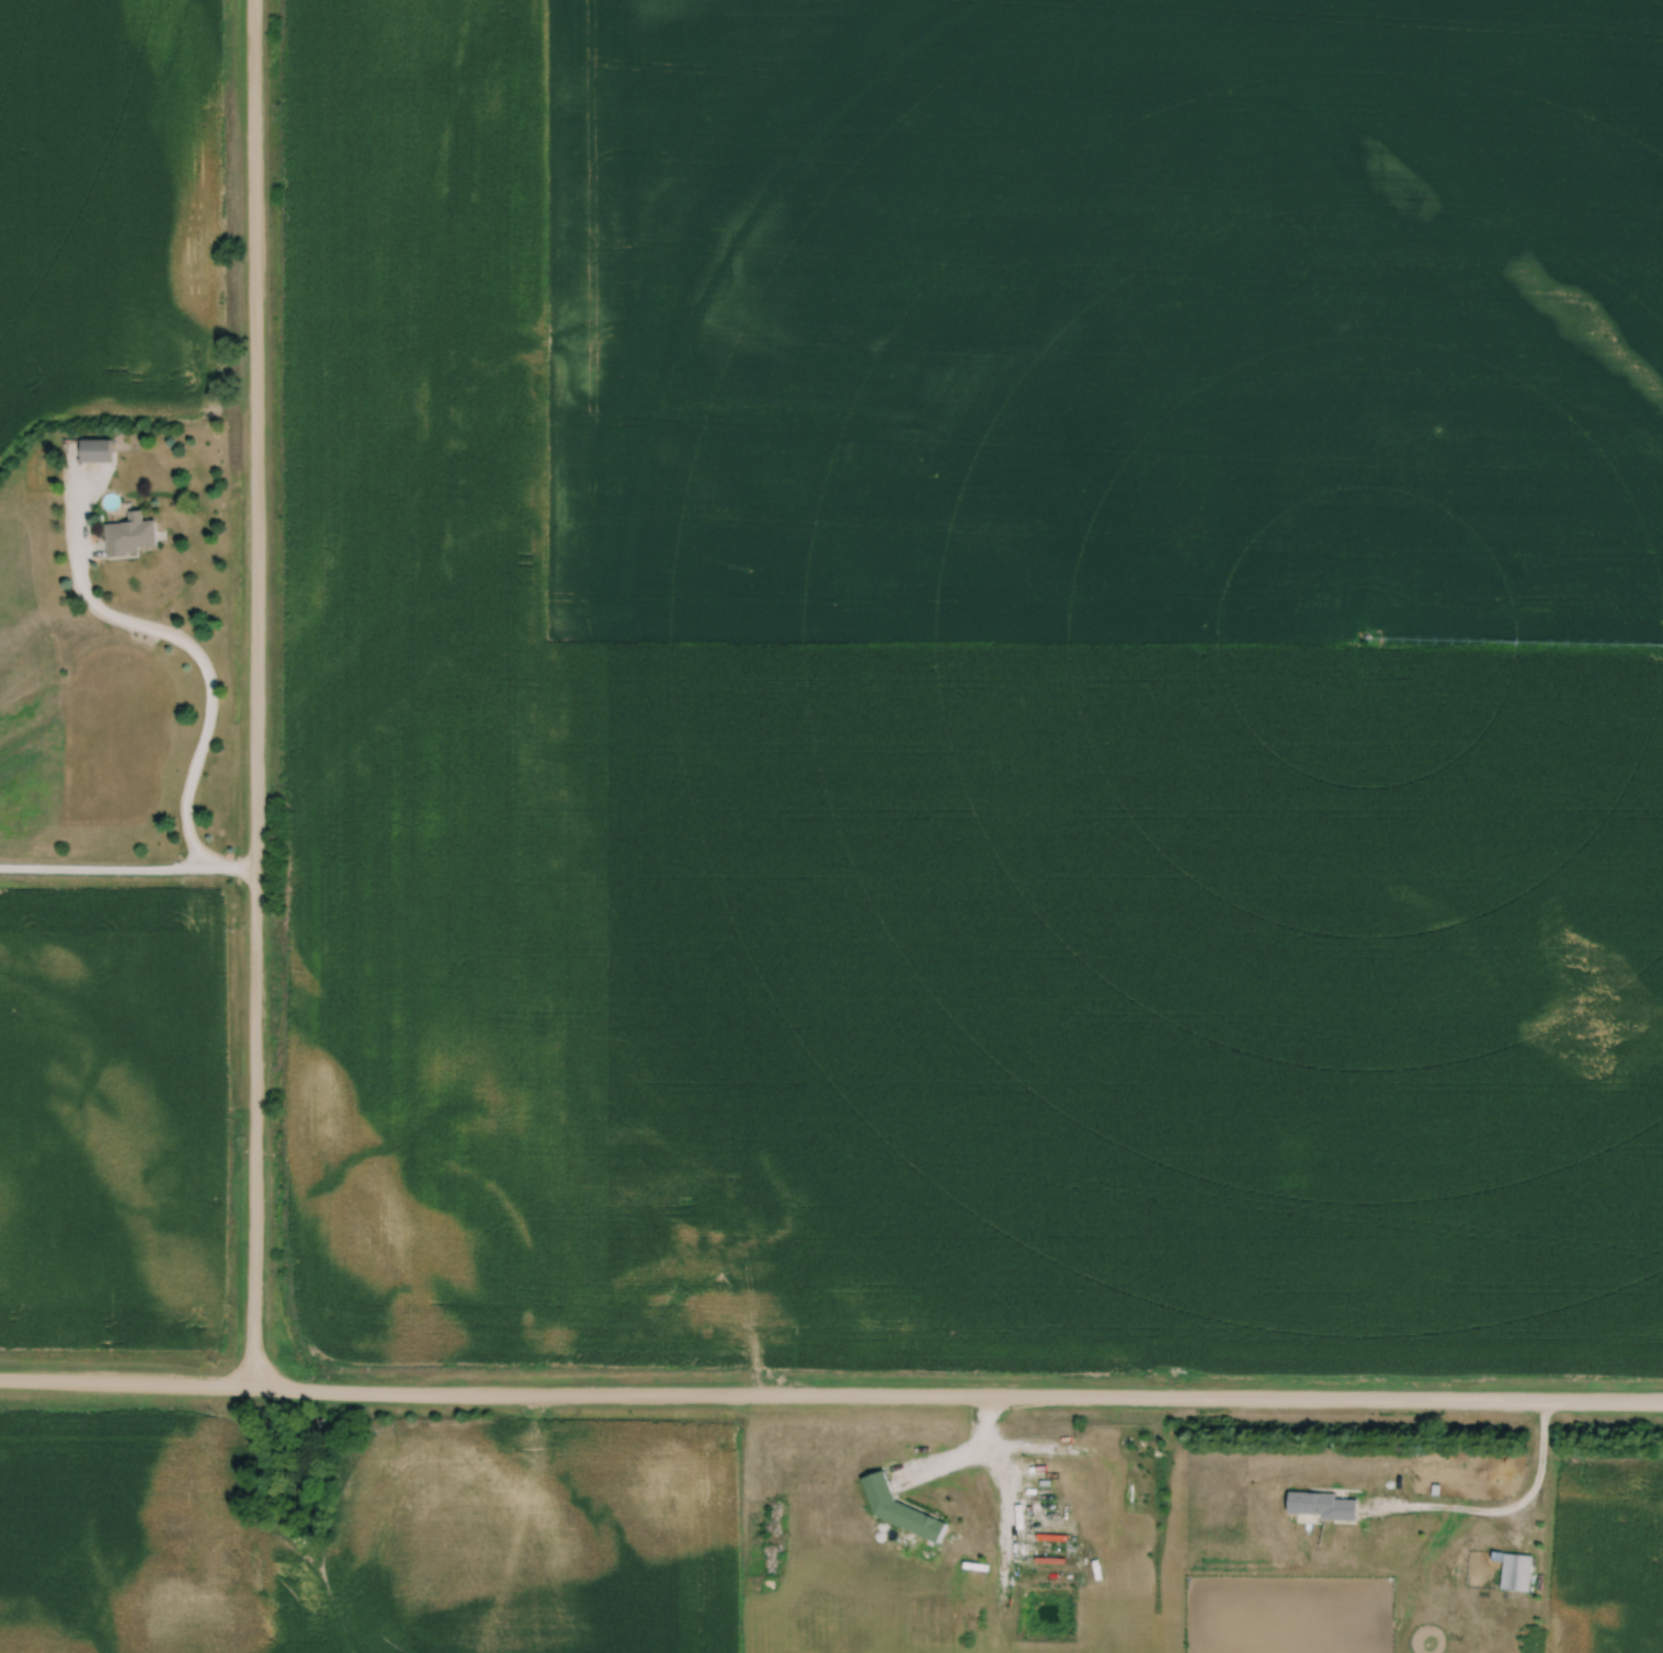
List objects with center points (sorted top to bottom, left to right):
building: (98, 451)
building: (134, 536)
road: (207, 687)
road: (257, 694)
road: (128, 874)
road: (831, 1395)
road: (970, 1449)
building: (1323, 1506)
road: (1502, 1509)
building: (903, 1511)
building: (1518, 1572)

